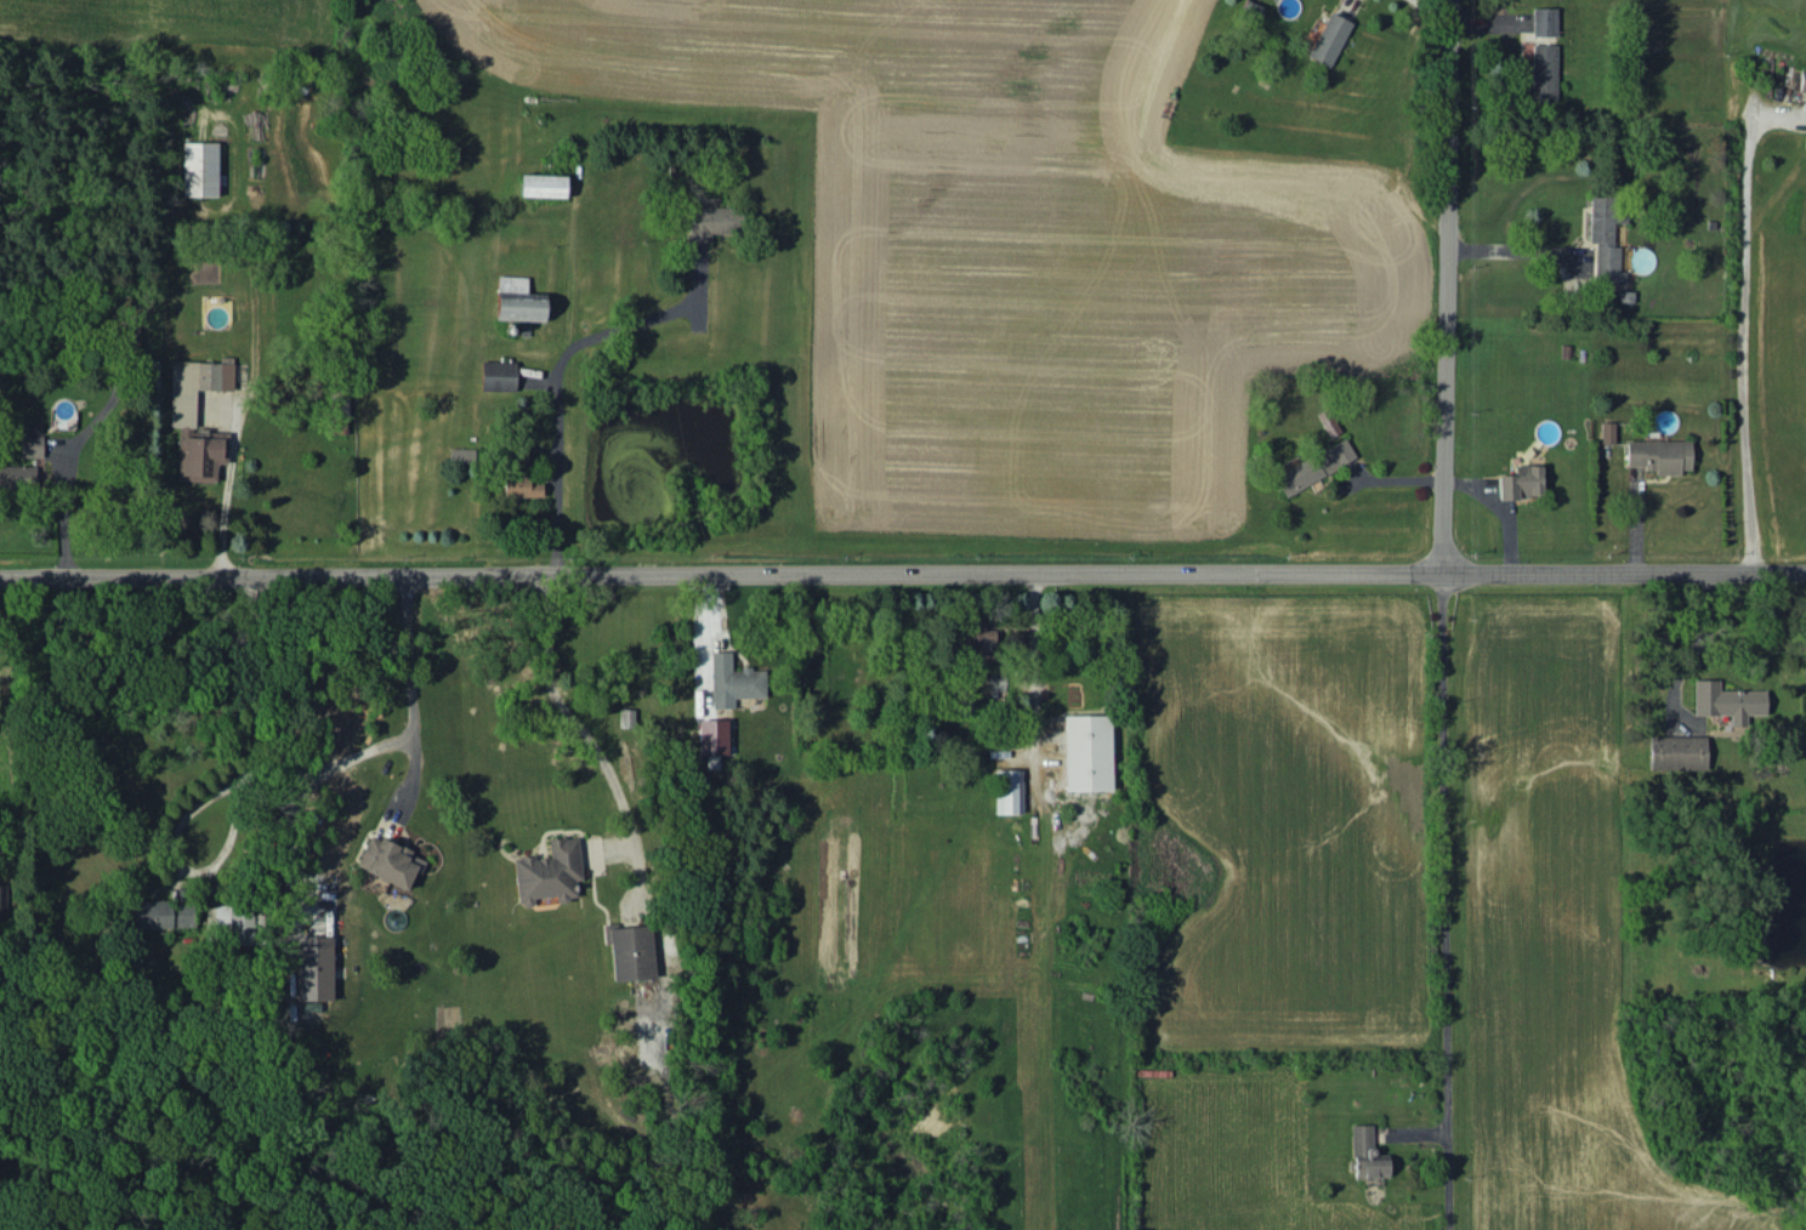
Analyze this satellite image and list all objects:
road: (1351, 5)
road: (1427, 12)
building: (1544, 21)
building: (1328, 39)
building: (1543, 70)
building: (1801, 80)
building: (199, 169)
building: (541, 184)
building: (714, 221)
building: (1606, 238)
road: (1511, 251)
road: (1446, 285)
building: (517, 300)
road: (1743, 332)
road: (552, 369)
building: (498, 375)
building: (195, 386)
building: (32, 427)
building: (1607, 432)
building: (32, 445)
building: (201, 455)
building: (461, 455)
building: (1658, 455)
building: (1314, 466)
building: (17, 476)
building: (1520, 482)
building: (519, 486)
road: (217, 509)
road: (64, 512)
road: (902, 573)
building: (979, 642)
road: (408, 677)
building: (733, 681)
road: (1033, 681)
building: (1727, 701)
road: (568, 711)
building: (712, 736)
building: (1087, 752)
building: (1677, 752)
road: (300, 787)
building: (1007, 791)
building: (388, 861)
building: (547, 872)
road: (1444, 901)
building: (163, 913)
building: (235, 922)
building: (631, 951)
building: (313, 968)
building: (1367, 1154)

